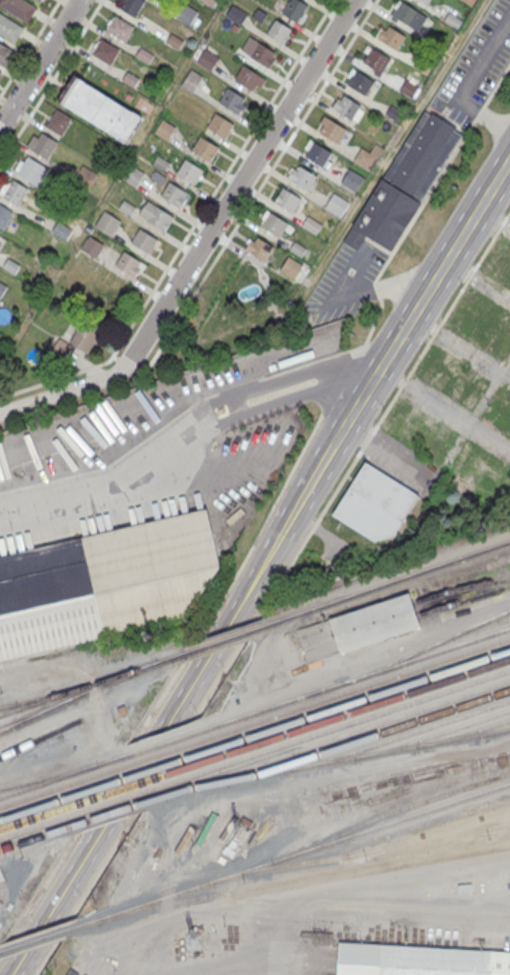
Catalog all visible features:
building: (38, 1)
building: (425, 1)
building: (211, 2)
building: (469, 2)
building: (132, 6)
building: (19, 8)
building: (294, 9)
building: (187, 13)
building: (236, 14)
building: (407, 16)
building: (452, 19)
building: (120, 27)
building: (10, 28)
building: (278, 31)
building: (391, 36)
building: (174, 41)
road: (30, 48)
building: (105, 51)
building: (5, 53)
building: (263, 54)
building: (144, 55)
building: (208, 59)
building: (375, 59)
road: (39, 63)
building: (422, 63)
parking lot: (475, 70)
building: (1, 72)
building: (249, 78)
building: (130, 79)
building: (192, 80)
building: (358, 80)
road: (50, 81)
road: (497, 82)
building: (408, 88)
building: (128, 96)
building: (233, 101)
building: (344, 105)
building: (99, 109)
road: (480, 111)
building: (395, 113)
building: (59, 122)
building: (220, 125)
building: (165, 129)
building: (331, 129)
building: (43, 144)
road: (396, 146)
building: (205, 148)
building: (316, 153)
building: (368, 155)
building: (160, 162)
building: (32, 170)
building: (189, 170)
road: (268, 172)
building: (85, 176)
building: (133, 176)
building: (301, 176)
building: (350, 180)
building: (405, 183)
road: (236, 187)
building: (15, 192)
building: (175, 194)
building: (287, 199)
road: (425, 200)
building: (336, 205)
building: (127, 207)
building: (4, 215)
building: (156, 215)
road: (493, 220)
building: (108, 223)
building: (274, 224)
building: (311, 225)
road: (191, 228)
building: (62, 230)
building: (144, 240)
building: (92, 246)
building: (259, 248)
building: (129, 263)
building: (290, 267)
road: (478, 278)
parking lot: (343, 284)
building: (2, 287)
road: (378, 290)
building: (111, 296)
road: (420, 303)
building: (488, 323)
building: (87, 332)
road: (157, 346)
road: (460, 348)
building: (61, 349)
road: (134, 353)
road: (113, 358)
building: (459, 387)
road: (59, 395)
road: (444, 408)
building: (393, 414)
road: (383, 416)
road: (185, 438)
building: (437, 441)
road: (385, 450)
road: (292, 469)
building: (473, 471)
building: (373, 504)
building: (102, 581)
railway: (385, 583)
railway: (460, 587)
road: (350, 588)
railway: (463, 599)
building: (358, 626)
road: (250, 631)
railway: (219, 640)
railway: (425, 646)
road: (191, 650)
road: (352, 669)
road: (83, 676)
road: (220, 680)
railway: (350, 680)
railway: (90, 684)
railway: (347, 690)
railway: (78, 695)
road: (159, 700)
railway: (37, 702)
railway: (342, 704)
railway: (8, 705)
railway: (35, 712)
road: (171, 713)
railway: (338, 715)
railway: (334, 728)
railway: (495, 730)
railway: (463, 733)
railway: (368, 735)
railway: (400, 735)
railway: (432, 735)
railway: (38, 738)
road: (156, 738)
railway: (329, 740)
railway: (153, 746)
railway: (146, 757)
railway: (333, 760)
road: (164, 765)
railway: (135, 773)
railway: (49, 776)
railway: (56, 777)
railway: (127, 786)
railway: (53, 787)
road: (104, 787)
railway: (119, 799)
railway: (48, 802)
railway: (111, 812)
railway: (389, 812)
railway: (44, 813)
railway: (40, 825)
railway: (496, 830)
railway: (391, 833)
railway: (426, 833)
railway: (36, 837)
railway: (300, 852)
railway: (360, 852)
railway: (336, 873)
building: (1, 875)
road: (37, 892)
road: (84, 893)
railway: (316, 902)
railway: (45, 936)
power tower: (197, 941)
building: (421, 961)
road: (235, 966)

